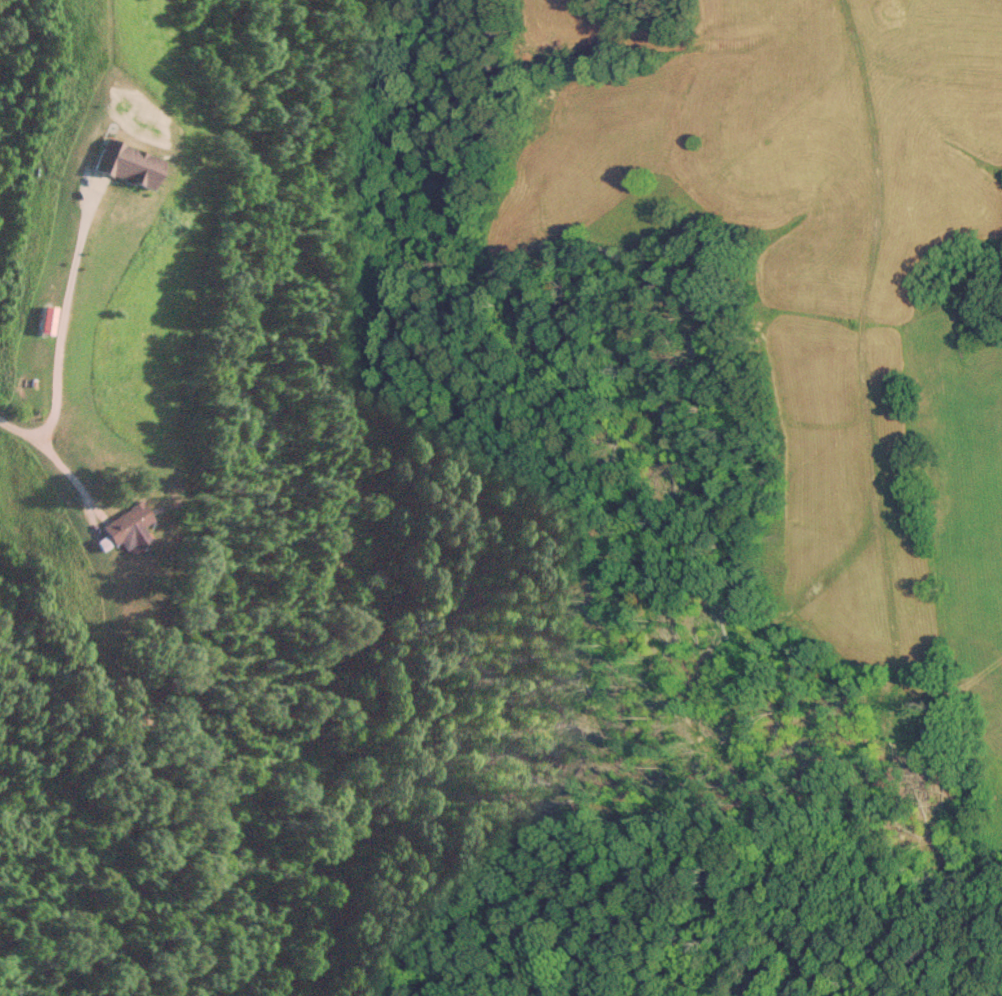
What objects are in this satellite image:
road: (64, 315)
road: (54, 458)

